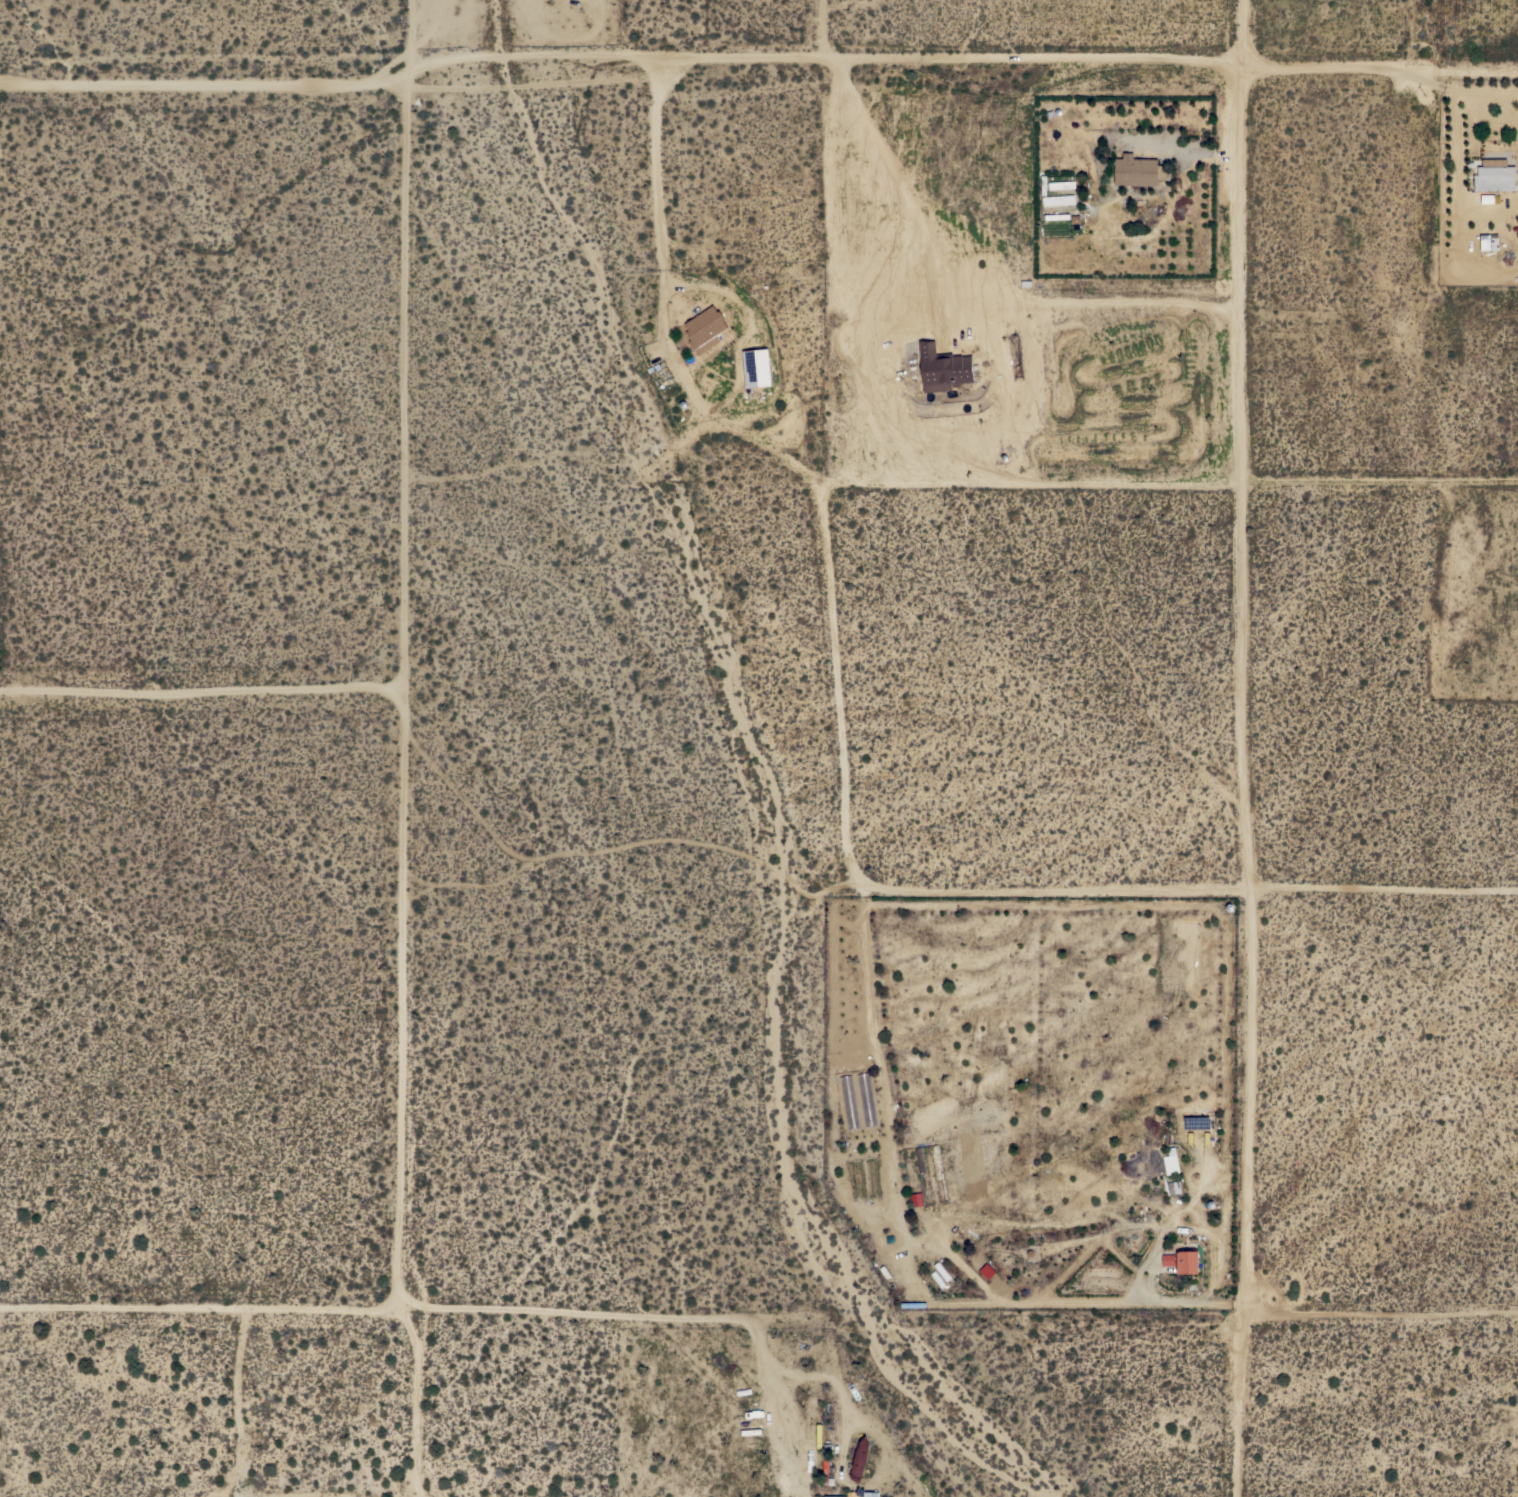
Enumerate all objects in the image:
road: (756, 60)
building: (1137, 170)
building: (1494, 176)
building: (1060, 185)
building: (1486, 198)
building: (1058, 199)
building: (1056, 216)
building: (704, 329)
building: (756, 367)
building: (942, 367)
road: (921, 481)
road: (1242, 507)
road: (833, 681)
road: (408, 693)
road: (204, 695)
road: (1381, 888)
road: (1051, 891)
building: (1170, 1161)
building: (1174, 1187)
building: (1167, 1259)
building: (1186, 1260)
building: (986, 1271)
road: (200, 1307)
road: (663, 1317)
road: (413, 1401)
building: (859, 1458)
building: (826, 1474)
building: (926, 1485)
building: (851, 1493)
building: (870, 1493)

